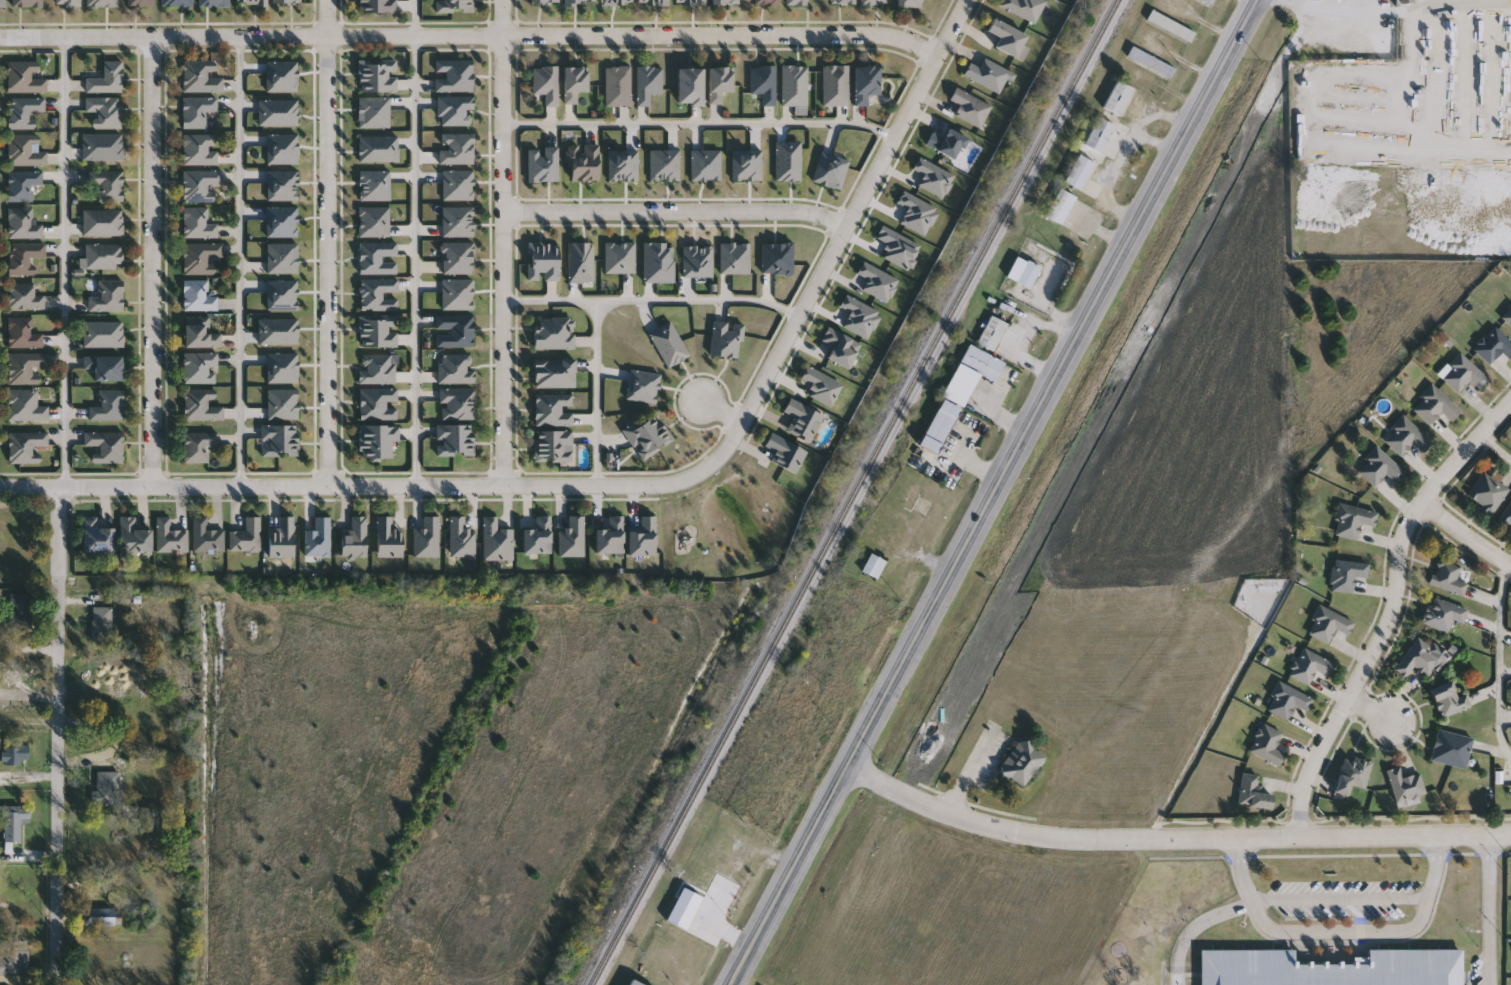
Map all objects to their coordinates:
building: (250, 1)
building: (286, 1)
building: (543, 1)
building: (579, 1)
building: (723, 1)
building: (841, 1)
building: (67, 2)
building: (101, 2)
building: (138, 2)
building: (616, 2)
building: (652, 2)
building: (689, 2)
building: (766, 2)
building: (798, 2)
building: (872, 2)
building: (1209, 2)
building: (2, 3)
building: (27, 3)
building: (176, 3)
building: (213, 3)
building: (908, 3)
building: (377, 6)
building: (454, 6)
building: (1023, 7)
road: (1412, 10)
road: (1333, 11)
building: (1172, 26)
building: (1006, 36)
road: (468, 37)
building: (1152, 63)
building: (377, 74)
building: (987, 74)
building: (453, 75)
building: (24, 76)
building: (199, 76)
building: (107, 78)
building: (718, 82)
building: (865, 82)
building: (546, 83)
building: (573, 83)
building: (648, 83)
building: (763, 83)
building: (793, 85)
building: (834, 85)
building: (617, 86)
building: (688, 86)
building: (1119, 98)
building: (969, 107)
building: (454, 109)
building: (196, 110)
building: (22, 111)
building: (104, 111)
road: (697, 124)
building: (1100, 134)
building: (946, 142)
building: (102, 146)
building: (198, 148)
building: (23, 150)
building: (583, 162)
building: (1080, 172)
building: (21, 184)
building: (107, 184)
building: (200, 184)
building: (1061, 206)
road: (675, 212)
building: (102, 222)
building: (22, 223)
building: (197, 223)
road: (328, 242)
road: (418, 242)
road: (502, 242)
building: (103, 255)
building: (23, 256)
building: (200, 256)
road: (154, 261)
road: (242, 261)
building: (542, 261)
building: (580, 262)
building: (657, 262)
road: (67, 264)
building: (1024, 272)
building: (197, 295)
building: (23, 296)
building: (107, 296)
road: (650, 303)
building: (1508, 316)
building: (377, 329)
building: (22, 332)
building: (553, 332)
building: (103, 333)
building: (993, 333)
building: (199, 334)
building: (724, 338)
building: (1494, 345)
road: (1023, 359)
building: (24, 366)
building: (104, 366)
building: (199, 367)
building: (553, 372)
building: (972, 373)
building: (1464, 374)
building: (820, 385)
road: (598, 394)
building: (456, 403)
building: (24, 405)
building: (108, 405)
building: (200, 405)
building: (1435, 405)
road: (996, 412)
road: (723, 413)
building: (941, 425)
building: (647, 434)
building: (1407, 436)
building: (454, 439)
building: (279, 440)
building: (376, 440)
building: (25, 445)
building: (104, 445)
building: (197, 445)
building: (552, 445)
road: (1497, 447)
building: (784, 451)
road: (954, 462)
road: (981, 468)
building: (1380, 468)
road: (624, 485)
railway: (856, 491)
railway: (950, 492)
building: (1488, 492)
road: (998, 493)
building: (1507, 516)
building: (1353, 521)
road: (1468, 534)
building: (95, 536)
building: (246, 536)
building: (132, 537)
building: (169, 537)
building: (205, 537)
building: (353, 537)
building: (386, 537)
building: (459, 537)
building: (571, 537)
building: (280, 538)
building: (425, 538)
building: (874, 566)
building: (1348, 575)
building: (1448, 577)
building: (20, 611)
road: (1391, 612)
building: (1443, 614)
building: (1328, 624)
building: (103, 625)
building: (1419, 659)
road: (1502, 662)
building: (1310, 666)
building: (798, 696)
building: (1449, 699)
building: (1288, 701)
road: (1373, 711)
road: (30, 718)
road: (59, 737)
building: (1268, 745)
building: (1452, 749)
building: (15, 755)
building: (1023, 763)
road: (968, 771)
building: (1353, 774)
building: (1406, 784)
building: (107, 787)
building: (1253, 793)
building: (15, 821)
road: (1174, 842)
road: (1341, 896)
building: (685, 909)
road: (1488, 910)
building: (100, 917)
road: (1196, 926)
road: (1342, 927)
building: (14, 958)
building: (1329, 968)
building: (633, 982)

